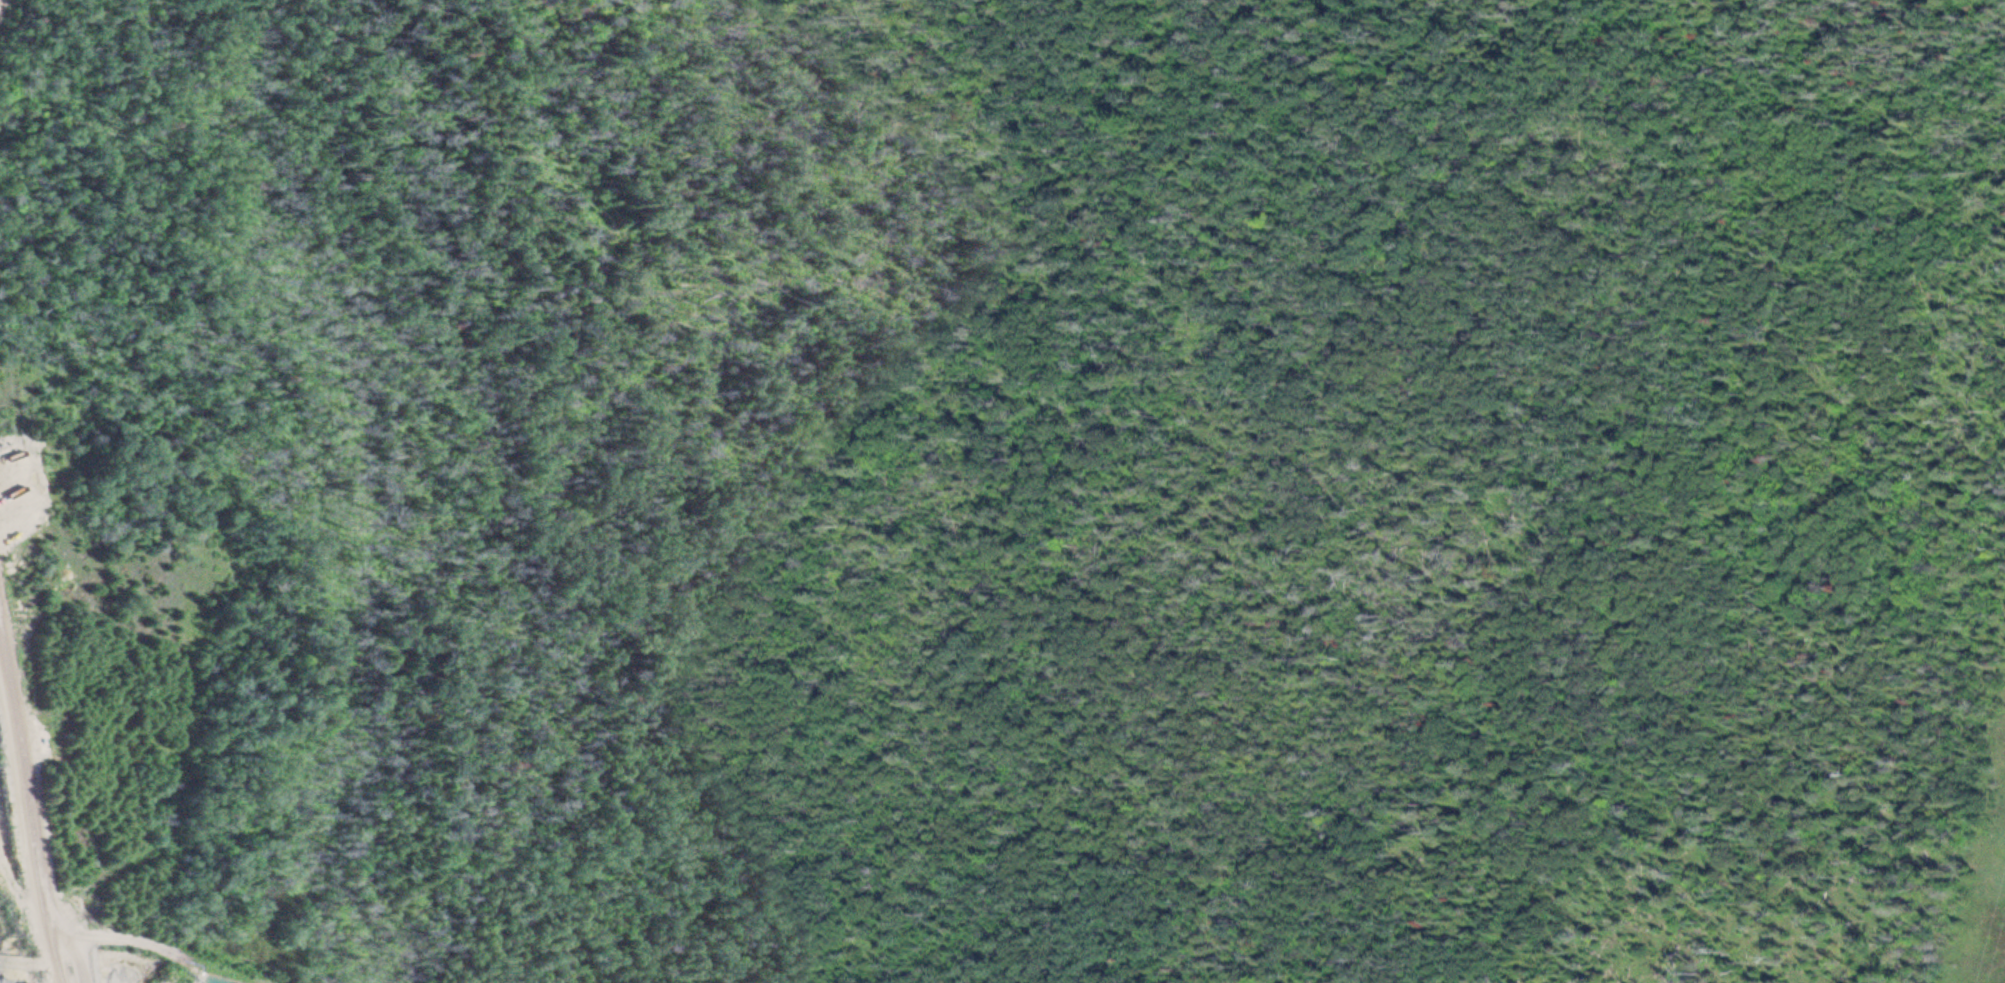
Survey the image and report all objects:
quarry: (261, 687)

